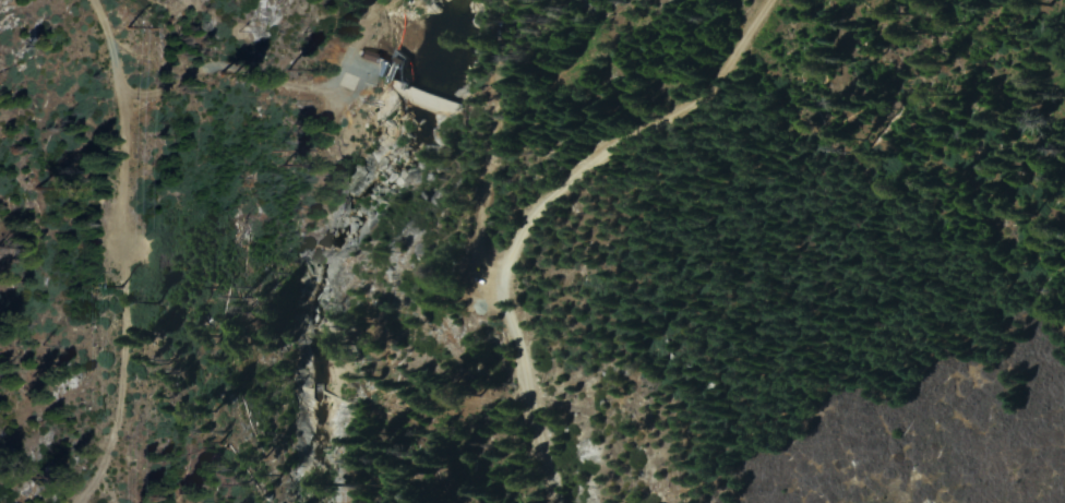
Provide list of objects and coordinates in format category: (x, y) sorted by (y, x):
power tower: (127, 22)
road: (215, 62)
road: (539, 207)
river: (347, 248)
road: (122, 254)

